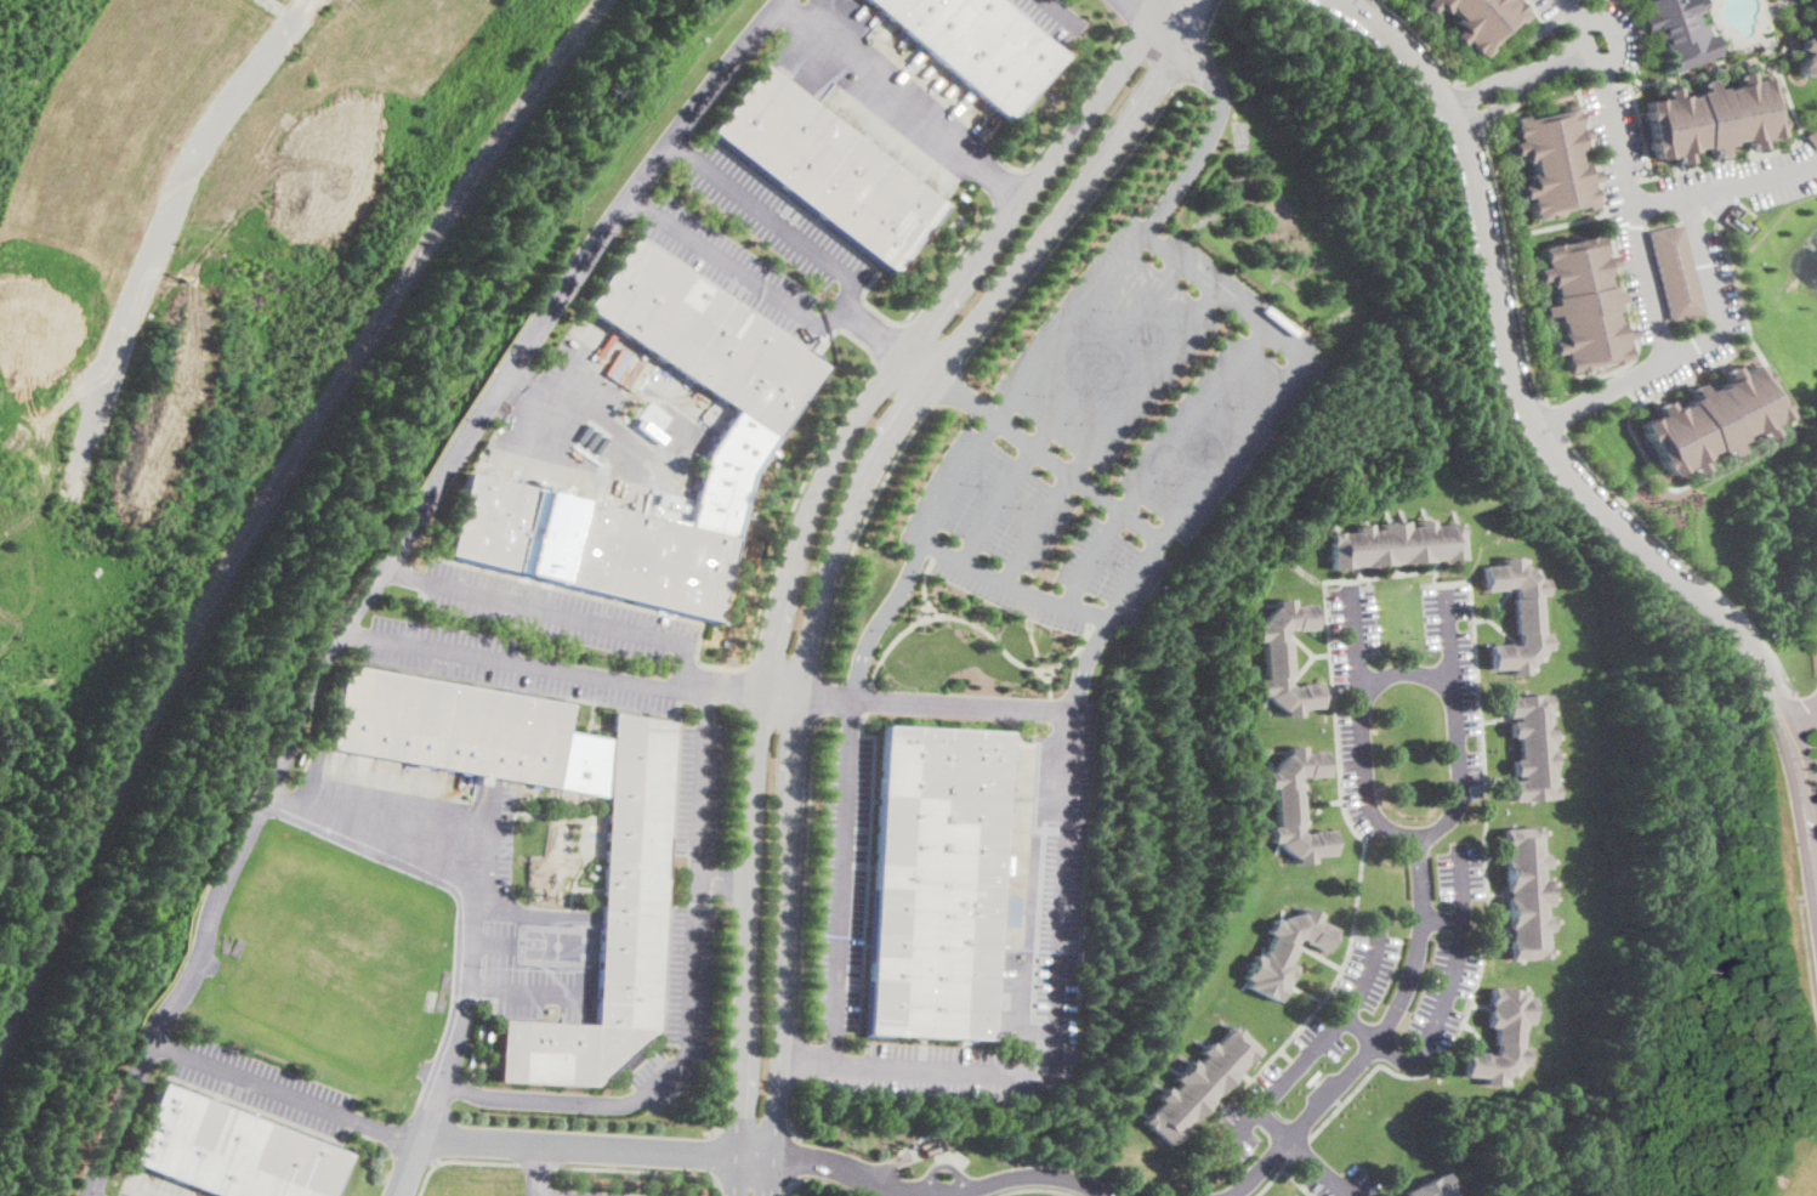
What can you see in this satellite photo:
road: (1348, 1)
building: (1813, 2)
parking lot: (1554, 7)
road: (1154, 10)
road: (1171, 10)
road: (1060, 11)
parking lot: (1052, 16)
road: (1209, 17)
building: (1478, 18)
road: (1546, 21)
road: (1613, 30)
building: (1681, 30)
parking lot: (1618, 32)
road: (1423, 38)
road: (1506, 45)
building: (978, 46)
building: (1810, 53)
road: (1189, 58)
road: (1522, 83)
road: (903, 96)
road: (1077, 101)
road: (1469, 104)
road: (1137, 107)
building: (1716, 117)
road: (1085, 118)
road: (1208, 126)
building: (1815, 136)
building: (1554, 160)
building: (825, 170)
road: (1631, 174)
parking lot: (1748, 180)
road: (1010, 188)
road: (1728, 189)
parking lot: (1633, 202)
road: (1566, 221)
road: (1071, 222)
road: (169, 232)
parking lot: (710, 251)
road: (1511, 263)
road: (950, 265)
building: (1680, 270)
road: (1005, 280)
road: (953, 287)
parking lot: (1719, 287)
building: (1583, 302)
road: (839, 305)
road: (869, 329)
road: (1634, 331)
road: (891, 342)
road: (1690, 351)
building: (812, 356)
road: (914, 365)
road: (1702, 365)
road: (1624, 376)
road: (528, 382)
road: (947, 382)
road: (963, 395)
road: (1633, 395)
road: (1063, 404)
parking lot: (608, 414)
road: (1555, 418)
building: (1708, 418)
road: (613, 425)
road: (850, 426)
road: (1103, 429)
parking lot: (1111, 431)
building: (750, 433)
road: (886, 441)
road: (1762, 443)
road: (1548, 446)
road: (1159, 461)
road: (631, 467)
road: (1078, 476)
railway: (265, 498)
road: (795, 505)
road: (858, 528)
building: (1395, 544)
road: (1685, 561)
road: (380, 568)
road: (924, 585)
road: (779, 595)
road: (609, 599)
road: (819, 600)
road: (1080, 608)
building: (1518, 616)
road: (960, 617)
road: (1095, 624)
parking lot: (619, 633)
road: (1448, 636)
road: (1357, 641)
road: (1071, 653)
building: (1284, 658)
road: (1402, 668)
road: (680, 680)
road: (721, 681)
parking lot: (1454, 681)
road: (744, 686)
road: (780, 692)
road: (816, 692)
road: (825, 697)
parking lot: (1353, 697)
road: (865, 698)
road: (925, 704)
road: (676, 708)
road: (1802, 714)
road: (1805, 714)
road: (825, 729)
road: (850, 731)
road: (677, 744)
building: (1532, 748)
road: (1815, 753)
road: (739, 783)
road: (793, 783)
parking lot: (699, 801)
building: (1296, 805)
road: (753, 829)
parking lot: (501, 831)
road: (1363, 854)
parking lot: (1066, 855)
road: (868, 865)
road: (804, 871)
road: (722, 875)
road: (733, 882)
parking lot: (841, 882)
building: (936, 883)
building: (1526, 892)
road: (1806, 899)
road: (694, 900)
road: (677, 901)
road: (694, 903)
road: (719, 903)
road: (1028, 903)
building: (632, 908)
road: (1441, 918)
road: (466, 951)
building: (1284, 952)
road: (1805, 958)
parking lot: (530, 982)
road: (1444, 997)
parking lot: (682, 1007)
road: (780, 1016)
road: (726, 1026)
building: (1501, 1037)
road: (1374, 1045)
road: (1312, 1048)
road: (795, 1053)
building: (1524, 1055)
road: (804, 1060)
road: (740, 1064)
road: (942, 1069)
parking lot: (261, 1084)
building: (1198, 1086)
road: (288, 1093)
road: (433, 1107)
road: (791, 1107)
road: (1272, 1120)
road: (580, 1145)
building: (233, 1151)
road: (711, 1156)
road: (755, 1157)
road: (795, 1157)
road: (456, 1160)
road: (413, 1164)
road: (538, 1164)
road: (1318, 1166)
road: (535, 1168)
road: (646, 1169)
road: (736, 1174)
road: (773, 1174)
road: (821, 1177)
road: (653, 1181)
parking lot: (152, 1185)
road: (1034, 1185)
building: (1432, 1188)
road: (772, 1192)
road: (938, 1192)
road: (734, 1194)
road: (545, 1195)

